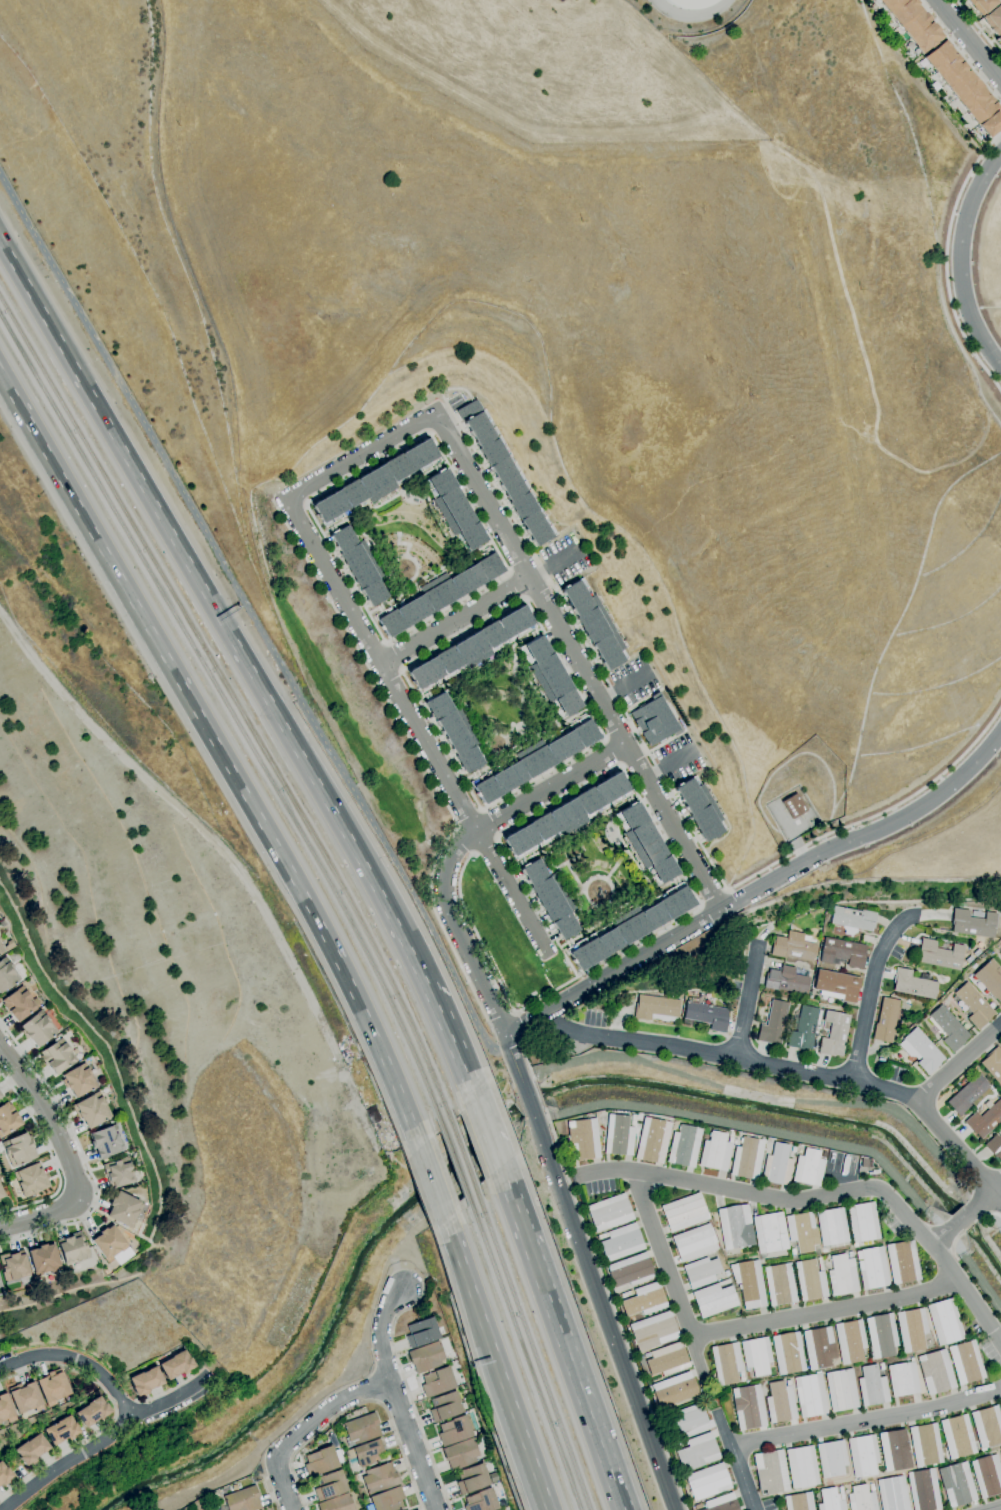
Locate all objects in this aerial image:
building: (689, 3)
building: (980, 4)
building: (992, 17)
building: (912, 22)
road: (979, 28)
road: (970, 40)
building: (999, 40)
road: (959, 52)
building: (965, 88)
road: (959, 259)
road: (947, 261)
road: (839, 275)
road: (425, 433)
road: (362, 456)
road: (946, 466)
building: (507, 473)
building: (375, 483)
building: (453, 511)
road: (555, 564)
building: (359, 565)
road: (514, 586)
building: (438, 594)
road: (539, 594)
road: (252, 618)
road: (219, 619)
road: (457, 623)
building: (595, 624)
building: (471, 649)
road: (399, 653)
road: (579, 662)
building: (549, 677)
road: (391, 681)
railway: (237, 702)
railway: (231, 715)
building: (655, 721)
road: (616, 728)
road: (418, 730)
building: (455, 732)
road: (604, 736)
road: (610, 752)
road: (221, 754)
building: (535, 761)
road: (635, 761)
road: (425, 768)
road: (657, 770)
road: (558, 800)
building: (795, 806)
building: (701, 808)
road: (467, 815)
building: (567, 816)
road: (491, 822)
road: (869, 833)
road: (461, 844)
building: (644, 844)
road: (483, 846)
road: (460, 848)
road: (800, 850)
road: (712, 897)
building: (551, 898)
road: (535, 906)
building: (853, 918)
building: (972, 923)
building: (630, 926)
building: (793, 947)
building: (1, 950)
building: (843, 953)
building: (939, 955)
building: (14, 956)
road: (604, 960)
building: (967, 962)
road: (611, 971)
building: (7, 974)
road: (559, 976)
building: (990, 978)
building: (786, 980)
building: (913, 984)
building: (837, 985)
road: (877, 988)
road: (752, 997)
building: (18, 1004)
building: (973, 1005)
building: (657, 1009)
building: (706, 1015)
road: (499, 1017)
building: (885, 1020)
building: (774, 1023)
road: (516, 1026)
building: (803, 1027)
building: (948, 1028)
building: (38, 1029)
building: (834, 1034)
road: (505, 1038)
road: (514, 1043)
building: (923, 1050)
road: (452, 1052)
building: (57, 1057)
road: (526, 1060)
road: (959, 1063)
road: (799, 1064)
building: (993, 1064)
road: (516, 1068)
building: (78, 1080)
road: (537, 1094)
building: (968, 1094)
building: (0, 1095)
building: (0, 1096)
road: (528, 1101)
building: (91, 1110)
road: (47, 1116)
building: (985, 1118)
building: (7, 1119)
building: (631, 1120)
road: (484, 1135)
building: (617, 1135)
building: (583, 1140)
building: (651, 1140)
building: (106, 1142)
building: (683, 1146)
building: (994, 1147)
building: (18, 1149)
building: (791, 1149)
building: (714, 1151)
railway: (462, 1154)
road: (83, 1155)
road: (51, 1156)
building: (745, 1158)
railway: (454, 1161)
building: (863, 1162)
building: (776, 1165)
building: (808, 1167)
building: (119, 1173)
building: (31, 1179)
road: (430, 1181)
building: (1, 1193)
road: (985, 1197)
road: (822, 1200)
building: (124, 1209)
road: (513, 1211)
building: (609, 1212)
building: (683, 1212)
road: (989, 1214)
road: (41, 1217)
road: (963, 1217)
building: (862, 1222)
building: (831, 1226)
road: (971, 1226)
building: (734, 1227)
building: (801, 1231)
building: (768, 1233)
road: (944, 1235)
road: (956, 1241)
building: (109, 1242)
building: (621, 1242)
building: (693, 1242)
building: (72, 1248)
building: (832, 1250)
building: (824, 1251)
building: (849, 1254)
building: (792, 1256)
building: (43, 1260)
building: (902, 1262)
building: (14, 1266)
building: (872, 1268)
building: (630, 1271)
road: (674, 1271)
building: (700, 1272)
building: (725, 1273)
building: (842, 1275)
building: (810, 1279)
building: (748, 1283)
building: (779, 1284)
building: (0, 1285)
building: (626, 1294)
building: (713, 1299)
building: (644, 1300)
road: (475, 1304)
road: (614, 1309)
road: (827, 1309)
road: (602, 1311)
building: (945, 1322)
building: (911, 1329)
building: (653, 1331)
building: (422, 1332)
road: (383, 1333)
building: (881, 1336)
building: (850, 1341)
building: (819, 1347)
railway: (530, 1348)
railway: (522, 1352)
building: (788, 1353)
building: (756, 1355)
building: (426, 1357)
road: (77, 1360)
building: (666, 1360)
building: (966, 1362)
building: (726, 1363)
building: (176, 1365)
building: (457, 1365)
building: (881, 1366)
building: (935, 1372)
building: (903, 1379)
building: (145, 1381)
building: (463, 1381)
building: (437, 1382)
road: (576, 1382)
building: (871, 1386)
building: (52, 1387)
building: (674, 1389)
building: (840, 1390)
road: (384, 1391)
road: (409, 1395)
building: (810, 1395)
building: (25, 1397)
building: (780, 1402)
road: (378, 1403)
building: (1000, 1404)
road: (357, 1407)
building: (446, 1407)
building: (748, 1407)
building: (5, 1410)
building: (93, 1412)
building: (689, 1420)
road: (866, 1420)
building: (987, 1426)
road: (306, 1427)
building: (361, 1429)
building: (61, 1430)
building: (455, 1430)
building: (957, 1437)
road: (102, 1441)
building: (674, 1442)
road: (413, 1445)
building: (675, 1445)
building: (925, 1445)
building: (31, 1449)
building: (894, 1450)
building: (697, 1451)
road: (527, 1452)
building: (367, 1453)
building: (1000, 1453)
building: (461, 1454)
building: (863, 1455)
road: (283, 1458)
road: (734, 1458)
building: (831, 1458)
road: (291, 1459)
building: (321, 1461)
building: (801, 1467)
building: (770, 1472)
building: (4, 1475)
building: (987, 1475)
building: (380, 1479)
building: (472, 1479)
building: (868, 1479)
building: (707, 1481)
building: (861, 1481)
building: (956, 1484)
building: (330, 1485)
building: (923, 1490)
road: (270, 1491)
building: (892, 1493)
building: (243, 1499)
building: (861, 1499)
building: (386, 1500)
building: (830, 1500)
building: (482, 1501)
building: (798, 1501)
building: (337, 1503)
building: (720, 1503)
building: (216, 1507)
road: (996, 1508)

